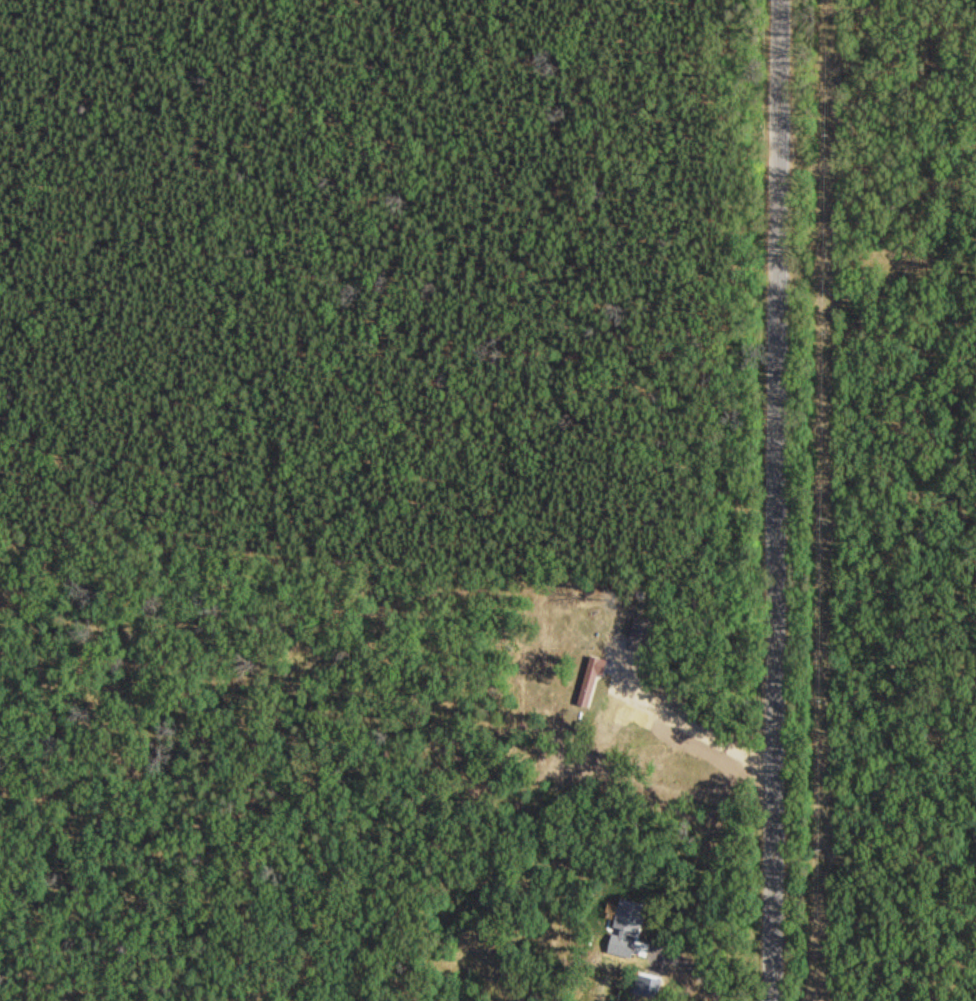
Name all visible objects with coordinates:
road: (777, 500)
building: (588, 680)
building: (493, 944)

